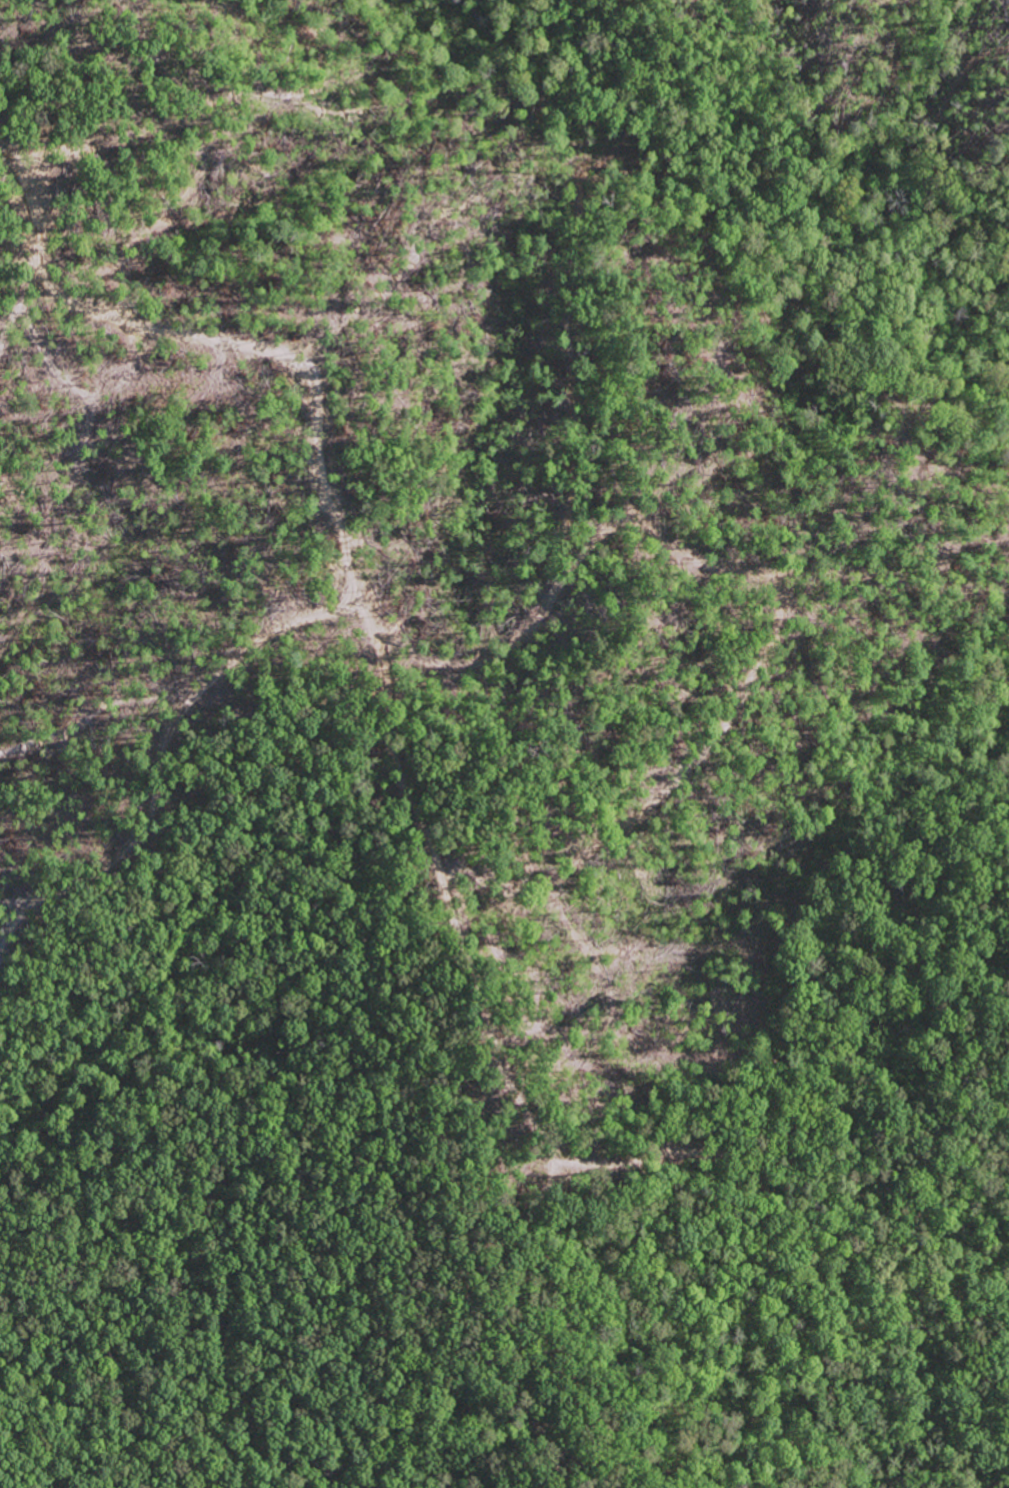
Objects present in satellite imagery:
road: (423, 785)

